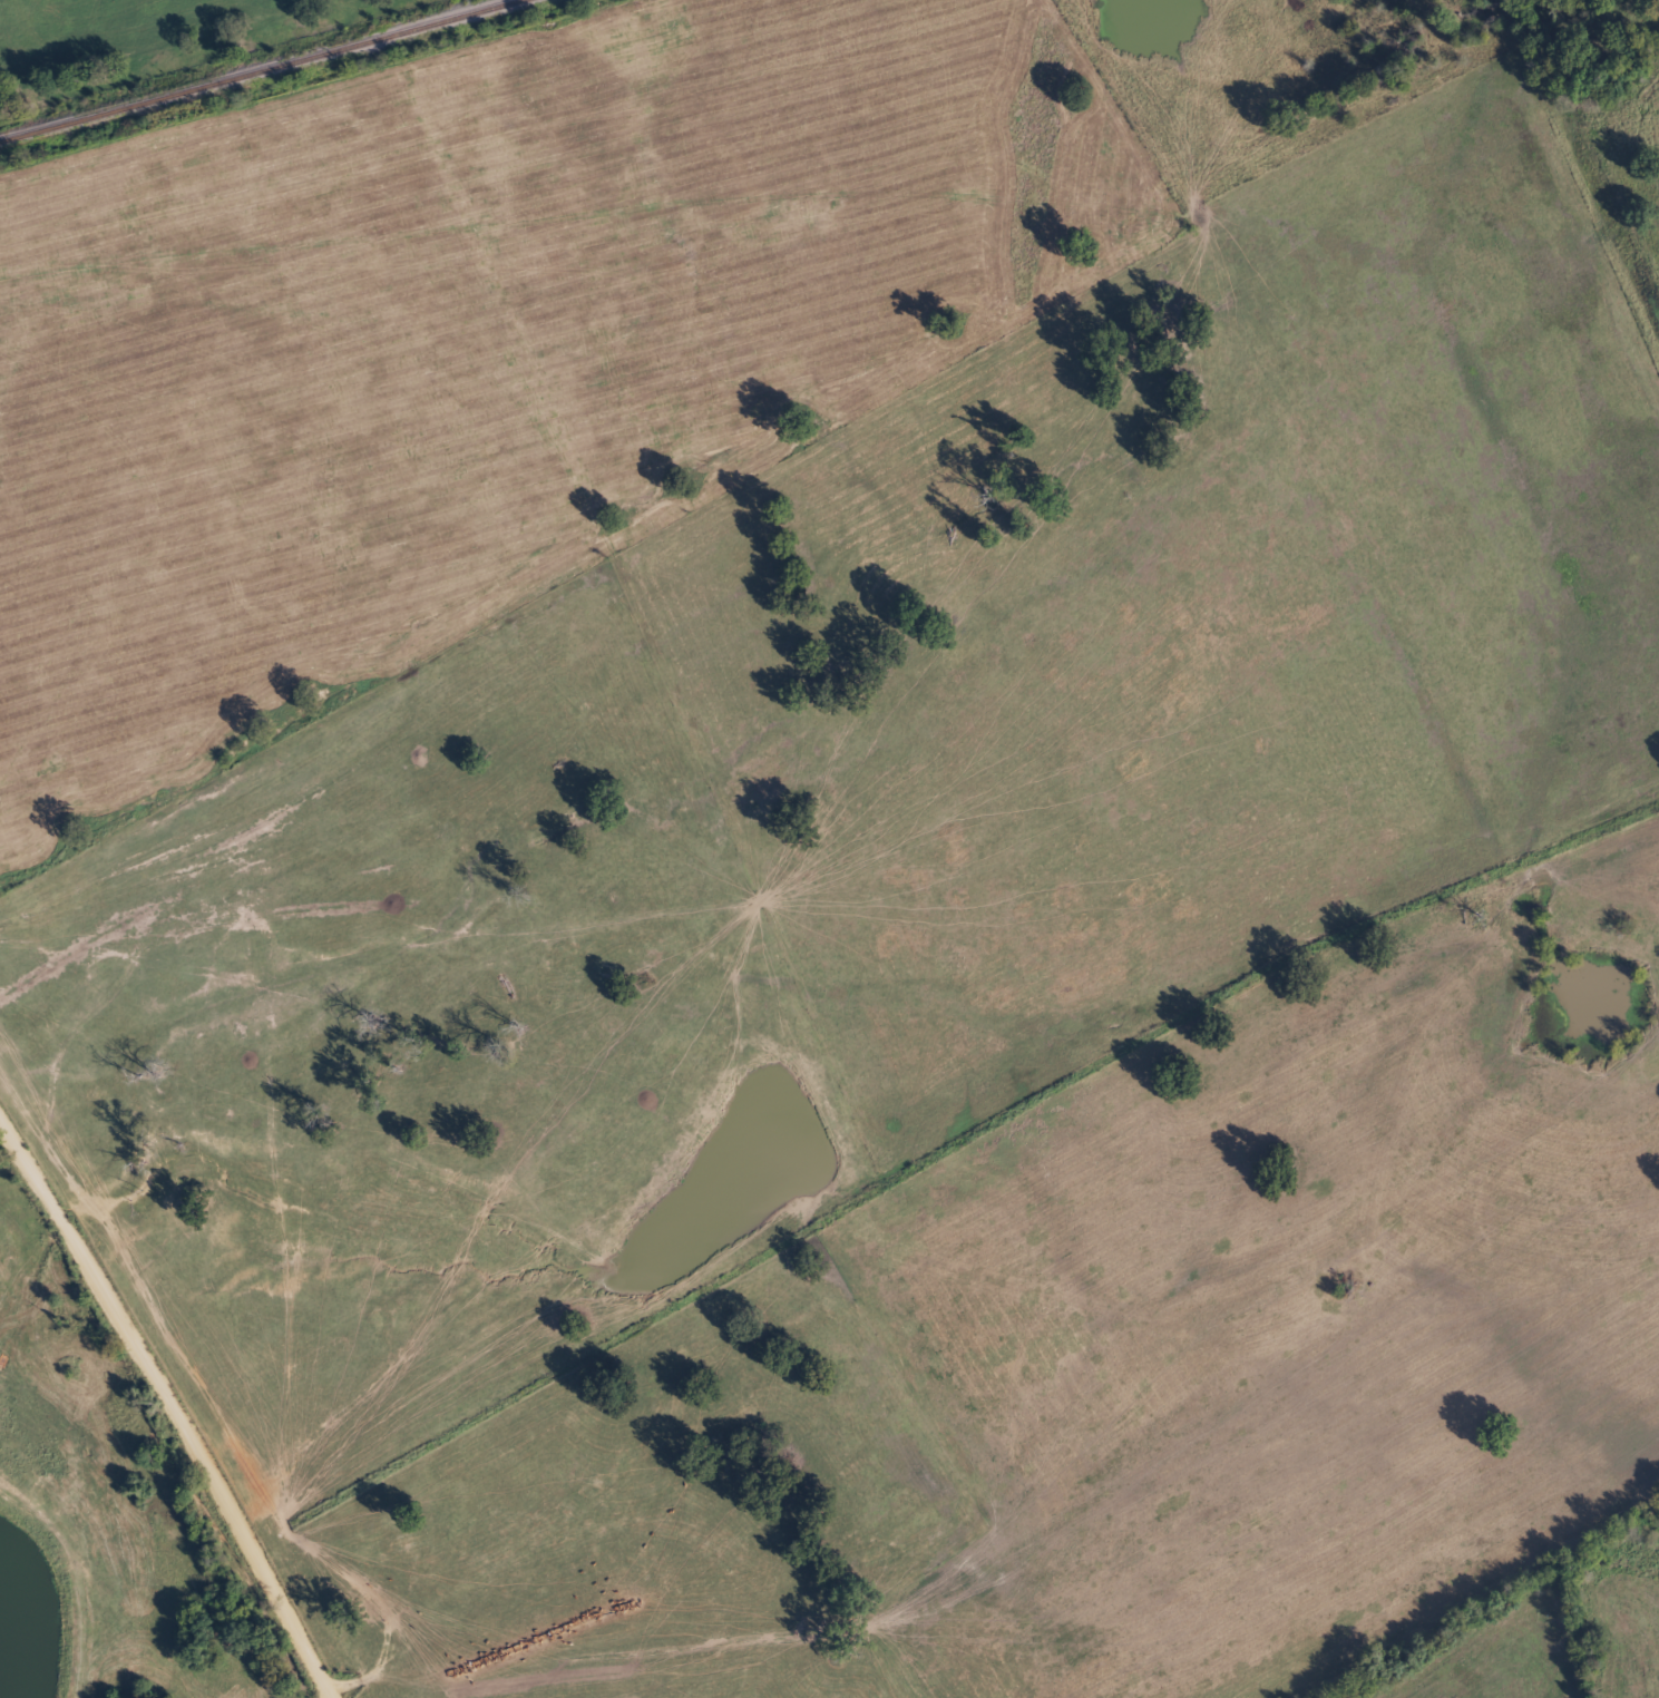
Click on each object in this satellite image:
railway: (257, 69)
road: (177, 1396)

